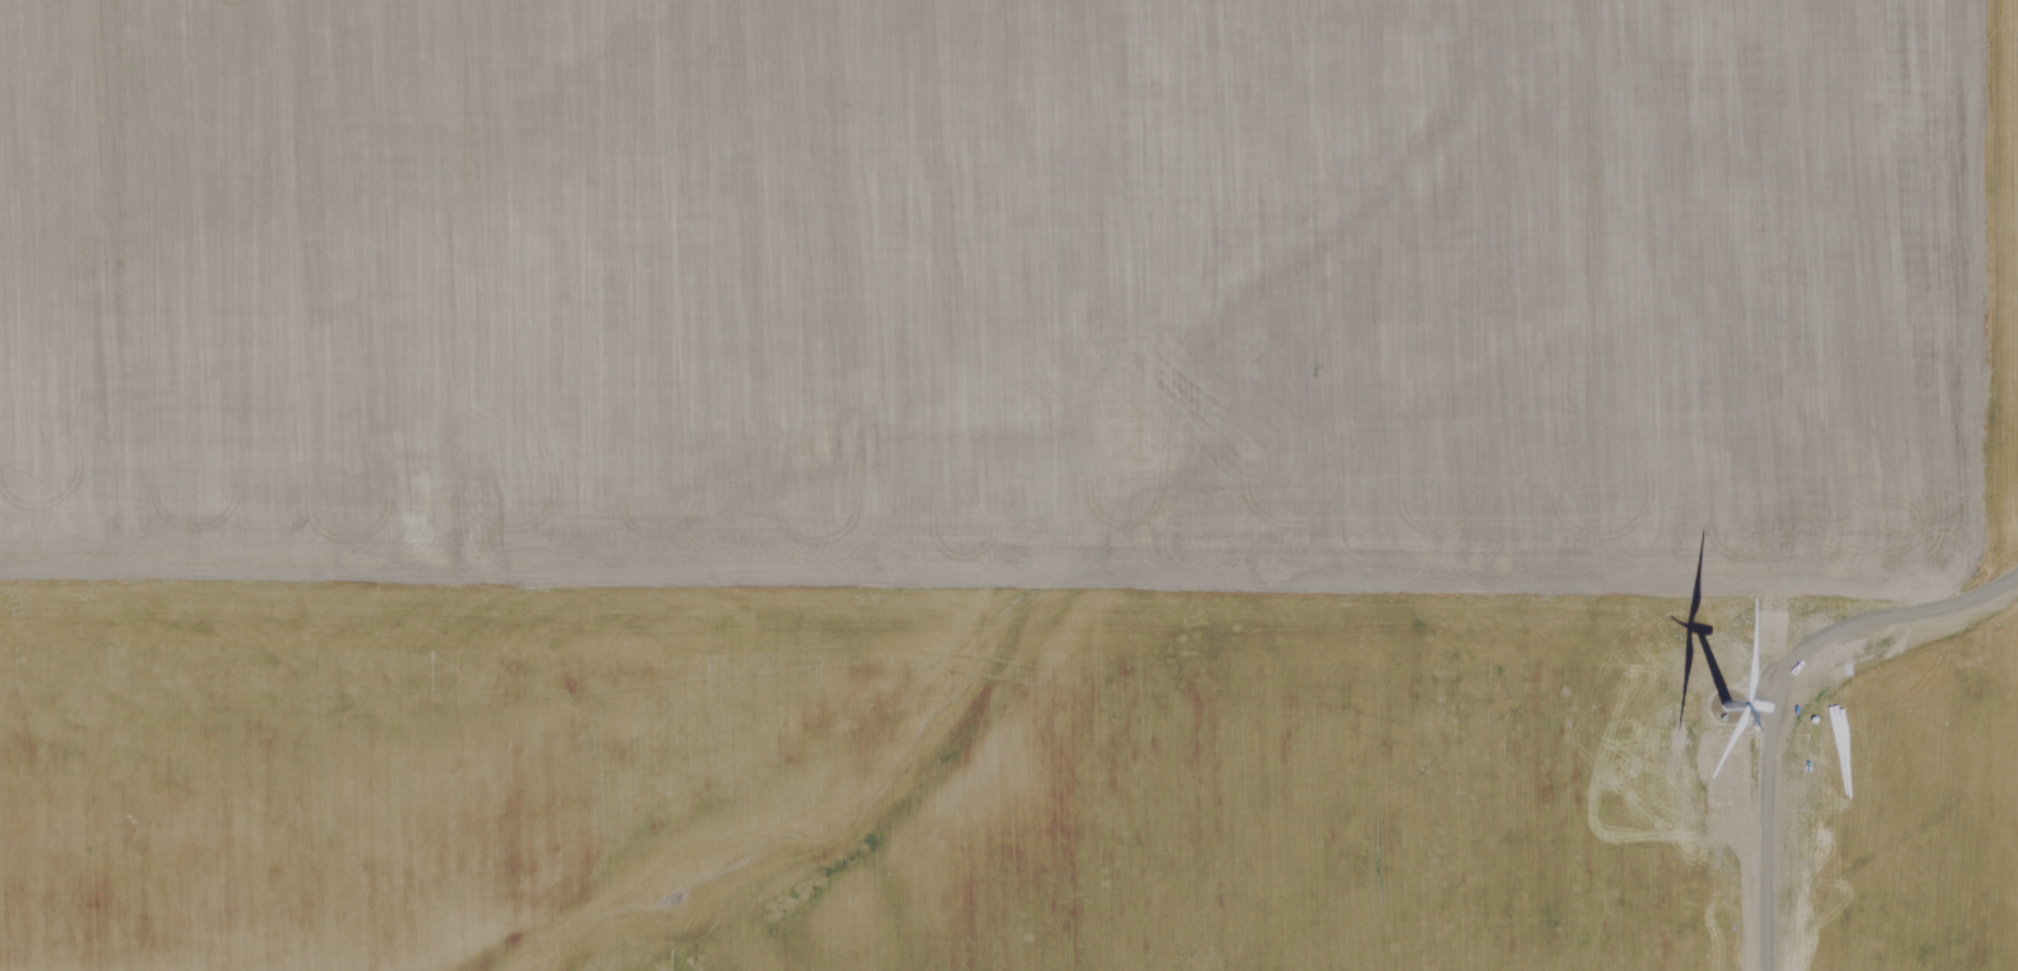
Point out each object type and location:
road: (1774, 687)
wind turbine: (1731, 706)

